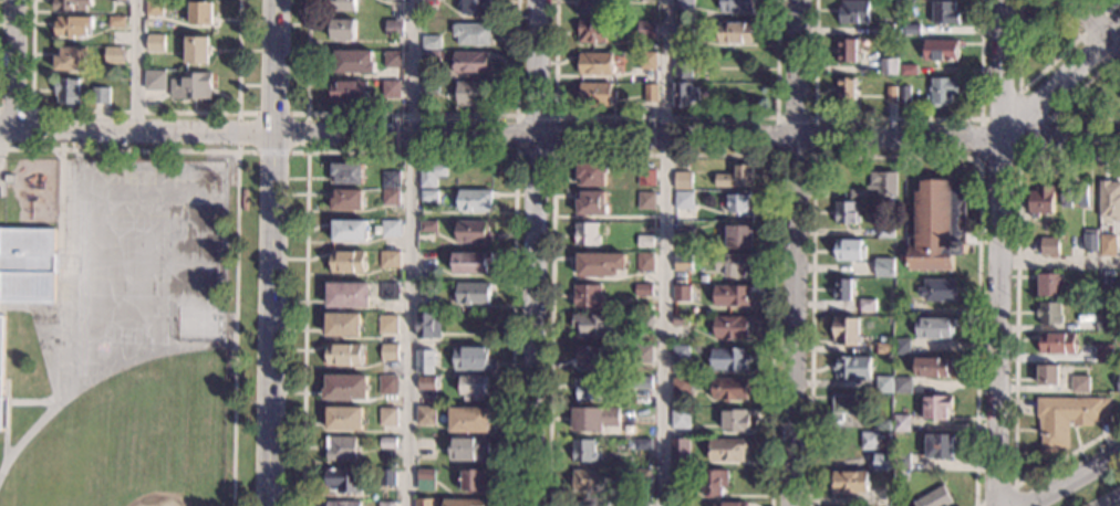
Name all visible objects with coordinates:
building: (117, 0)
building: (390, 0)
building: (649, 0)
building: (72, 4)
building: (684, 4)
building: (342, 6)
building: (737, 6)
building: (476, 7)
building: (593, 7)
building: (154, 8)
road: (1107, 8)
building: (853, 12)
building: (200, 13)
building: (944, 13)
building: (116, 21)
building: (72, 27)
building: (393, 28)
building: (884, 28)
road: (1092, 28)
building: (911, 29)
building: (342, 30)
building: (646, 30)
building: (684, 31)
building: (591, 32)
building: (736, 33)
building: (471, 34)
road: (1079, 35)
building: (431, 42)
building: (155, 43)
building: (196, 51)
building: (847, 51)
building: (940, 51)
building: (113, 55)
building: (431, 55)
building: (393, 59)
building: (70, 60)
building: (647, 61)
building: (354, 62)
building: (471, 62)
road: (12, 63)
road: (136, 64)
building: (594, 64)
building: (684, 64)
building: (889, 66)
building: (908, 70)
road: (1058, 80)
building: (155, 81)
road: (1033, 81)
building: (190, 86)
building: (429, 87)
building: (846, 88)
building: (391, 89)
building: (943, 89)
building: (66, 91)
building: (348, 92)
building: (651, 93)
building: (470, 94)
building: (100, 95)
building: (594, 95)
building: (684, 95)
building: (891, 95)
building: (904, 95)
road: (1057, 109)
road: (136, 112)
road: (272, 113)
road: (412, 114)
road: (30, 115)
road: (665, 116)
road: (896, 119)
road: (1, 135)
road: (559, 136)
road: (1030, 141)
road: (76, 144)
road: (271, 152)
road: (411, 154)
road: (553, 154)
road: (663, 155)
road: (812, 157)
road: (892, 158)
road: (178, 160)
building: (346, 173)
building: (592, 173)
building: (431, 175)
building: (743, 176)
building: (645, 178)
building: (9, 179)
building: (390, 179)
building: (682, 180)
building: (883, 183)
building: (857, 194)
building: (428, 196)
building: (1075, 196)
building: (390, 197)
building: (243, 199)
building: (346, 200)
building: (473, 200)
building: (683, 200)
building: (1109, 200)
road: (59, 201)
building: (645, 201)
building: (1041, 201)
building: (591, 203)
building: (739, 204)
road: (235, 211)
building: (846, 213)
building: (427, 226)
building: (937, 226)
building: (391, 229)
building: (349, 231)
building: (473, 232)
building: (885, 233)
building: (587, 234)
building: (739, 238)
building: (682, 239)
building: (1090, 241)
building: (644, 242)
building: (1107, 245)
building: (1049, 246)
building: (850, 250)
road: (271, 252)
road: (532, 252)
road: (792, 252)
road: (998, 252)
road: (413, 253)
road: (666, 253)
building: (426, 259)
building: (390, 260)
road: (1059, 261)
building: (346, 262)
building: (28, 263)
building: (469, 263)
building: (644, 263)
building: (681, 263)
building: (600, 264)
building: (733, 265)
building: (883, 267)
building: (703, 280)
building: (1049, 285)
building: (427, 288)
building: (1119, 288)
building: (643, 291)
building: (842, 291)
building: (938, 291)
building: (388, 292)
building: (471, 294)
building: (681, 294)
building: (348, 295)
building: (588, 296)
building: (732, 296)
building: (867, 304)
road: (12, 306)
building: (903, 308)
building: (1089, 308)
building: (1050, 314)
building: (1118, 315)
building: (680, 320)
building: (1103, 323)
park: (198, 325)
building: (343, 325)
building: (386, 325)
building: (595, 325)
building: (428, 326)
building: (645, 326)
building: (730, 327)
building: (934, 328)
building: (846, 330)
road: (1015, 334)
building: (1057, 344)
building: (901, 347)
building: (884, 348)
building: (388, 352)
building: (1103, 352)
building: (343, 355)
building: (643, 355)
building: (680, 355)
building: (589, 357)
building: (470, 359)
building: (728, 359)
building: (424, 361)
building: (1, 366)
building: (932, 367)
building: (851, 368)
building: (1048, 375)
road: (98, 376)
building: (1119, 381)
building: (426, 382)
building: (642, 382)
building: (883, 384)
building: (1080, 384)
building: (387, 386)
building: (903, 386)
building: (681, 387)
building: (345, 388)
building: (474, 388)
building: (588, 388)
building: (729, 389)
road: (29, 401)
building: (846, 405)
building: (937, 408)
building: (425, 415)
building: (387, 417)
building: (678, 418)
building: (344, 419)
building: (595, 419)
building: (1066, 419)
building: (469, 420)
building: (735, 420)
road: (4, 421)
building: (901, 423)
building: (881, 425)
building: (869, 441)
building: (387, 442)
building: (641, 444)
building: (940, 447)
building: (341, 449)
building: (468, 449)
building: (726, 450)
building: (678, 451)
building: (583, 452)
building: (901, 462)
building: (881, 463)
building: (386, 477)
building: (640, 478)
building: (678, 478)
road: (1072, 478)
building: (425, 479)
building: (587, 479)
building: (344, 481)
building: (473, 481)
building: (714, 482)
building: (848, 482)
park: (157, 488)
road: (1003, 489)
building: (934, 498)
road: (1110, 500)
building: (424, 502)
building: (464, 503)
building: (677, 503)
building: (343, 504)
building: (386, 504)
building: (591, 504)
building: (639, 504)
building: (728, 504)

